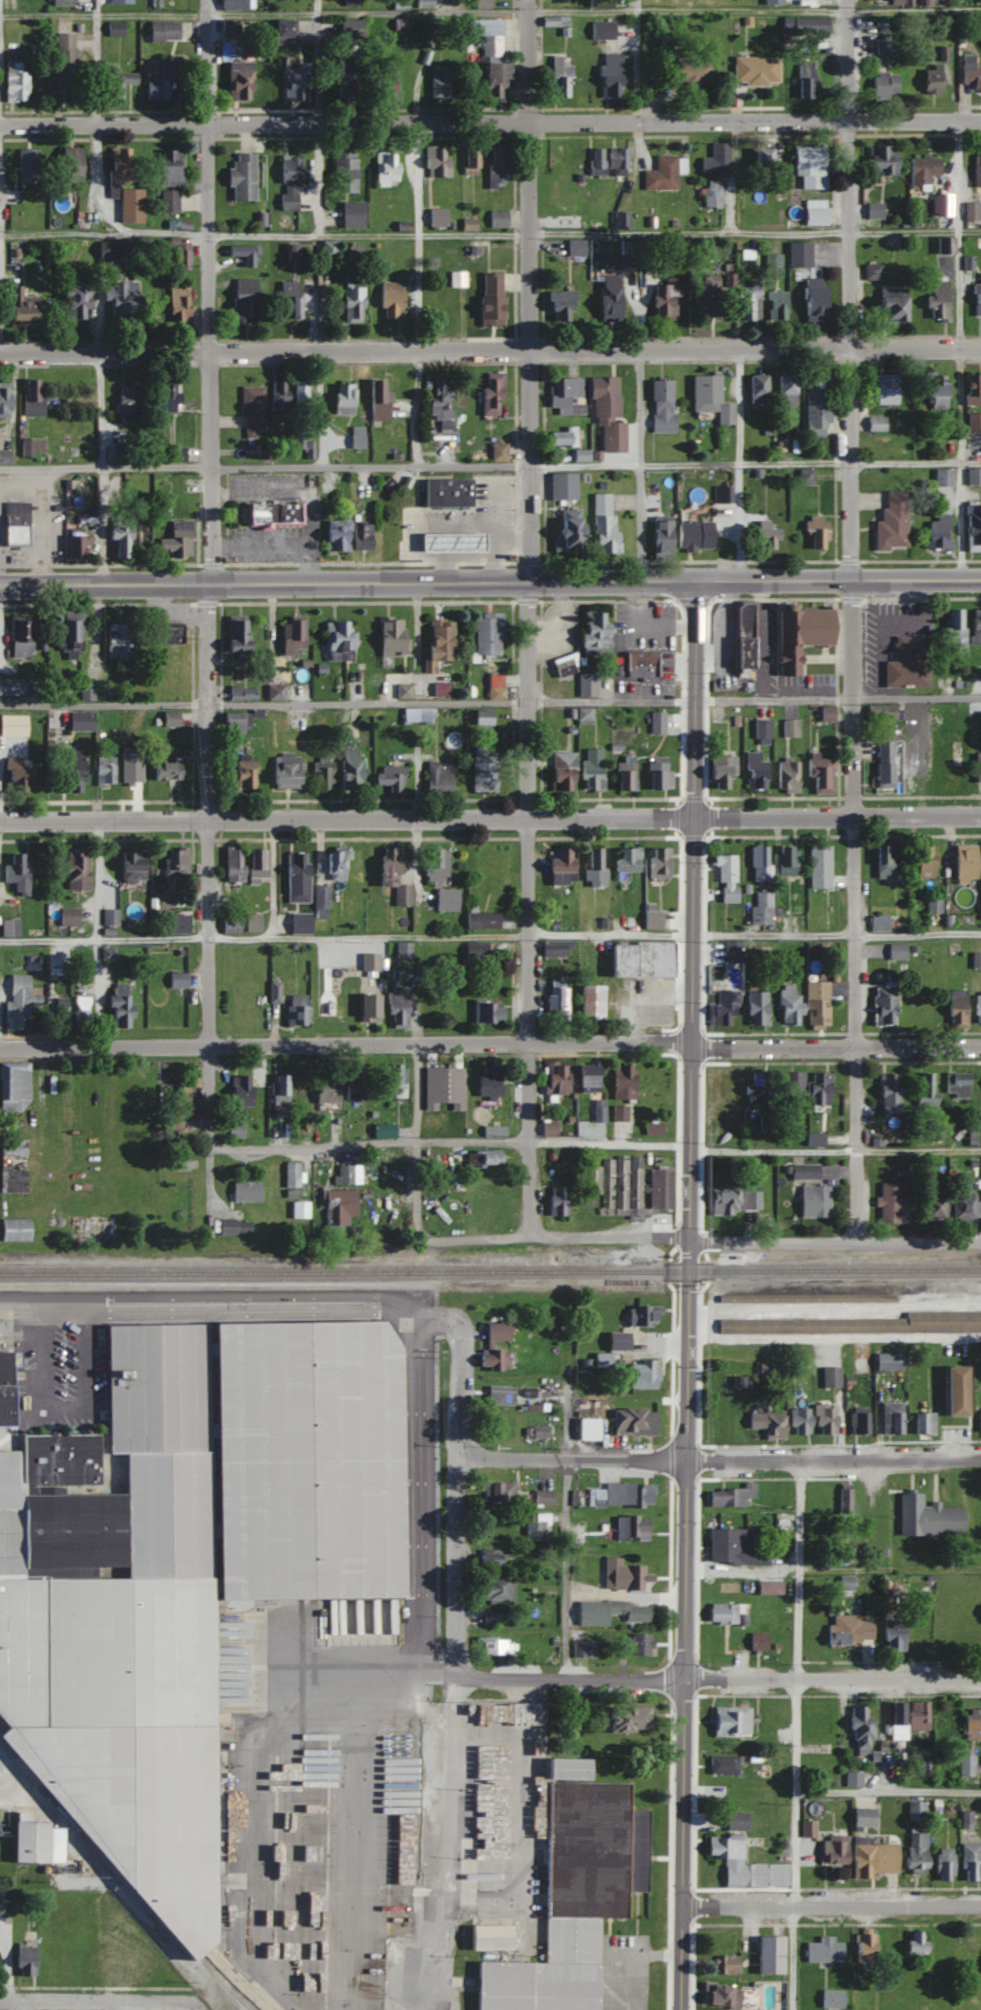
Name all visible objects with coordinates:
building: (350, 2)
building: (772, 2)
building: (61, 3)
building: (423, 3)
road: (754, 11)
road: (265, 13)
road: (420, 14)
building: (804, 25)
building: (114, 29)
building: (350, 29)
building: (601, 30)
building: (163, 31)
building: (283, 31)
building: (486, 35)
building: (346, 47)
building: (882, 49)
road: (636, 59)
road: (96, 60)
building: (64, 64)
building: (754, 70)
building: (687, 72)
building: (970, 73)
building: (609, 75)
building: (557, 78)
building: (930, 78)
building: (343, 80)
building: (805, 81)
building: (237, 82)
building: (295, 82)
building: (13, 83)
building: (163, 83)
building: (386, 83)
building: (494, 83)
building: (116, 84)
building: (438, 84)
building: (884, 84)
road: (490, 119)
building: (716, 159)
building: (469, 160)
building: (881, 160)
building: (607, 162)
building: (761, 162)
building: (807, 162)
building: (435, 163)
building: (68, 164)
building: (977, 166)
building: (26, 167)
building: (118, 167)
building: (385, 167)
building: (495, 168)
building: (169, 169)
building: (922, 170)
building: (661, 174)
road: (208, 175)
building: (342, 175)
building: (241, 177)
road: (96, 183)
building: (288, 183)
building: (711, 194)
building: (944, 204)
building: (130, 206)
building: (874, 210)
building: (814, 212)
building: (351, 214)
building: (436, 217)
building: (497, 219)
road: (424, 230)
road: (915, 230)
building: (575, 247)
building: (242, 254)
building: (798, 254)
building: (180, 256)
building: (871, 271)
road: (849, 290)
road: (416, 291)
road: (531, 291)
building: (706, 295)
building: (608, 297)
building: (976, 297)
building: (289, 299)
building: (490, 299)
building: (663, 299)
building: (938, 299)
building: (73, 300)
building: (123, 300)
building: (243, 300)
building: (390, 300)
building: (813, 300)
building: (350, 301)
building: (748, 301)
building: (440, 302)
building: (177, 304)
building: (559, 305)
building: (777, 305)
building: (20, 306)
building: (890, 310)
road: (490, 350)
road: (960, 350)
building: (884, 388)
building: (786, 389)
building: (934, 390)
building: (972, 390)
building: (711, 392)
building: (756, 392)
building: (490, 394)
building: (565, 395)
building: (301, 396)
building: (277, 397)
building: (165, 398)
building: (30, 399)
building: (126, 400)
building: (377, 400)
building: (343, 401)
building: (666, 401)
building: (3, 402)
building: (440, 402)
building: (816, 405)
road: (319, 408)
building: (251, 411)
building: (606, 413)
building: (974, 422)
building: (356, 437)
building: (560, 438)
building: (30, 448)
building: (497, 452)
building: (174, 455)
building: (580, 455)
road: (756, 462)
road: (370, 463)
road: (740, 465)
road: (639, 466)
road: (101, 469)
road: (105, 469)
road: (211, 469)
building: (943, 477)
building: (562, 486)
building: (446, 493)
building: (272, 514)
building: (891, 522)
building: (603, 523)
building: (15, 524)
building: (973, 528)
building: (816, 532)
building: (141, 534)
building: (336, 534)
building: (938, 534)
building: (693, 535)
building: (360, 536)
building: (566, 536)
building: (766, 536)
building: (660, 539)
building: (174, 540)
building: (119, 541)
building: (449, 543)
building: (74, 547)
road: (490, 584)
building: (809, 624)
building: (975, 631)
building: (165, 632)
building: (486, 632)
building: (954, 632)
building: (71, 633)
building: (594, 633)
building: (291, 634)
building: (236, 635)
building: (391, 635)
building: (747, 635)
building: (19, 636)
building: (337, 639)
building: (116, 640)
building: (436, 640)
building: (907, 662)
building: (639, 665)
building: (586, 683)
building: (10, 686)
building: (402, 690)
building: (97, 691)
building: (275, 691)
building: (240, 692)
road: (490, 700)
building: (881, 711)
building: (583, 714)
building: (169, 718)
building: (80, 720)
building: (233, 721)
building: (656, 721)
building: (12, 725)
building: (790, 727)
building: (762, 731)
building: (884, 763)
building: (977, 766)
building: (349, 768)
building: (591, 768)
building: (103, 769)
building: (165, 769)
building: (284, 769)
building: (72, 770)
building: (561, 770)
building: (719, 770)
building: (242, 771)
building: (625, 771)
building: (755, 771)
building: (323, 772)
building: (482, 772)
building: (657, 772)
building: (129, 774)
building: (820, 774)
building: (16, 775)
building: (786, 775)
building: (437, 778)
building: (389, 779)
road: (490, 818)
building: (625, 858)
building: (786, 860)
building: (657, 861)
building: (883, 861)
building: (923, 861)
building: (963, 862)
building: (257, 863)
building: (759, 863)
building: (334, 864)
building: (825, 864)
building: (131, 865)
building: (174, 865)
building: (232, 865)
building: (435, 865)
building: (593, 866)
building: (559, 867)
building: (76, 870)
building: (16, 873)
building: (392, 874)
building: (296, 876)
building: (733, 876)
road: (272, 878)
building: (445, 899)
building: (320, 900)
building: (933, 903)
road: (208, 905)
building: (761, 907)
building: (980, 909)
road: (530, 910)
road: (854, 912)
building: (67, 916)
building: (481, 918)
building: (651, 919)
building: (176, 922)
building: (299, 922)
building: (878, 922)
building: (229, 925)
building: (8, 927)
road: (836, 930)
road: (95, 933)
road: (346, 935)
building: (555, 947)
building: (732, 950)
building: (896, 951)
building: (641, 959)
building: (368, 960)
building: (176, 979)
building: (273, 991)
building: (17, 999)
building: (556, 999)
building: (590, 1002)
building: (118, 1003)
building: (366, 1004)
building: (816, 1004)
building: (788, 1005)
building: (883, 1005)
building: (396, 1006)
building: (722, 1007)
building: (755, 1007)
building: (956, 1007)
building: (977, 1007)
building: (296, 1008)
building: (331, 1008)
building: (485, 1010)
building: (80, 1011)
building: (920, 1011)
building: (60, 1014)
road: (490, 1042)
building: (553, 1077)
building: (395, 1079)
building: (488, 1080)
building: (588, 1080)
building: (435, 1081)
building: (354, 1082)
building: (623, 1082)
building: (956, 1084)
building: (13, 1085)
building: (792, 1085)
building: (299, 1087)
building: (325, 1087)
building: (757, 1087)
building: (819, 1088)
building: (925, 1090)
building: (239, 1091)
building: (279, 1091)
building: (888, 1093)
building: (720, 1097)
building: (176, 1107)
building: (619, 1113)
building: (598, 1114)
building: (234, 1129)
building: (547, 1129)
building: (652, 1129)
building: (383, 1130)
building: (875, 1134)
road: (418, 1142)
road: (595, 1142)
building: (487, 1156)
building: (11, 1165)
building: (803, 1171)
building: (346, 1173)
building: (607, 1177)
building: (291, 1179)
building: (593, 1179)
building: (660, 1188)
building: (636, 1189)
building: (244, 1190)
building: (557, 1200)
building: (734, 1201)
building: (814, 1201)
building: (889, 1202)
building: (933, 1207)
building: (965, 1207)
building: (391, 1208)
building: (299, 1209)
building: (332, 1209)
building: (480, 1213)
building: (233, 1226)
building: (13, 1229)
road: (703, 1238)
railway: (490, 1271)
road: (691, 1296)
road: (835, 1306)
building: (641, 1315)
building: (861, 1324)
building: (519, 1331)
road: (833, 1333)
building: (617, 1340)
building: (489, 1345)
building: (601, 1360)
building: (888, 1361)
building: (643, 1375)
building: (830, 1376)
building: (957, 1390)
building: (499, 1394)
building: (898, 1416)
building: (823, 1418)
building: (798, 1420)
building: (858, 1420)
building: (979, 1420)
road: (566, 1421)
building: (632, 1421)
building: (767, 1422)
building: (923, 1422)
building: (586, 1429)
building: (536, 1432)
road: (720, 1458)
road: (458, 1481)
building: (498, 1492)
building: (622, 1495)
building: (730, 1496)
building: (542, 1497)
building: (845, 1500)
building: (934, 1514)
building: (536, 1528)
building: (631, 1528)
building: (734, 1548)
building: (490, 1558)
building: (182, 1562)
road: (564, 1566)
road: (889, 1569)
road: (743, 1570)
building: (622, 1575)
building: (721, 1586)
building: (493, 1589)
road: (626, 1599)
building: (608, 1612)
building: (721, 1613)
building: (848, 1630)
building: (811, 1635)
building: (892, 1636)
building: (757, 1641)
building: (638, 1645)
building: (492, 1646)
building: (582, 1650)
road: (718, 1678)
building: (917, 1716)
building: (627, 1719)
building: (895, 1719)
building: (737, 1721)
building: (971, 1724)
building: (859, 1728)
road: (797, 1734)
building: (730, 1762)
building: (965, 1764)
building: (924, 1766)
building: (852, 1778)
road: (888, 1789)
road: (453, 1790)
building: (914, 1810)
building: (862, 1817)
building: (736, 1820)
building: (638, 1823)
building: (27, 1842)
building: (833, 1849)
building: (915, 1851)
building: (872, 1858)
building: (969, 1862)
building: (743, 1864)
building: (943, 1864)
railway: (125, 1869)
building: (568, 1896)
building: (0, 1904)
road: (832, 1905)
building: (488, 1937)
building: (914, 1944)
building: (831, 1946)
building: (864, 1948)
road: (623, 1951)
building: (776, 1953)
building: (24, 1961)
building: (46, 1962)
building: (74, 1963)
building: (726, 1964)
building: (120, 1965)
building: (718, 1995)
building: (831, 1998)
road: (101, 2000)
road: (21, 2005)
road: (129, 2005)

